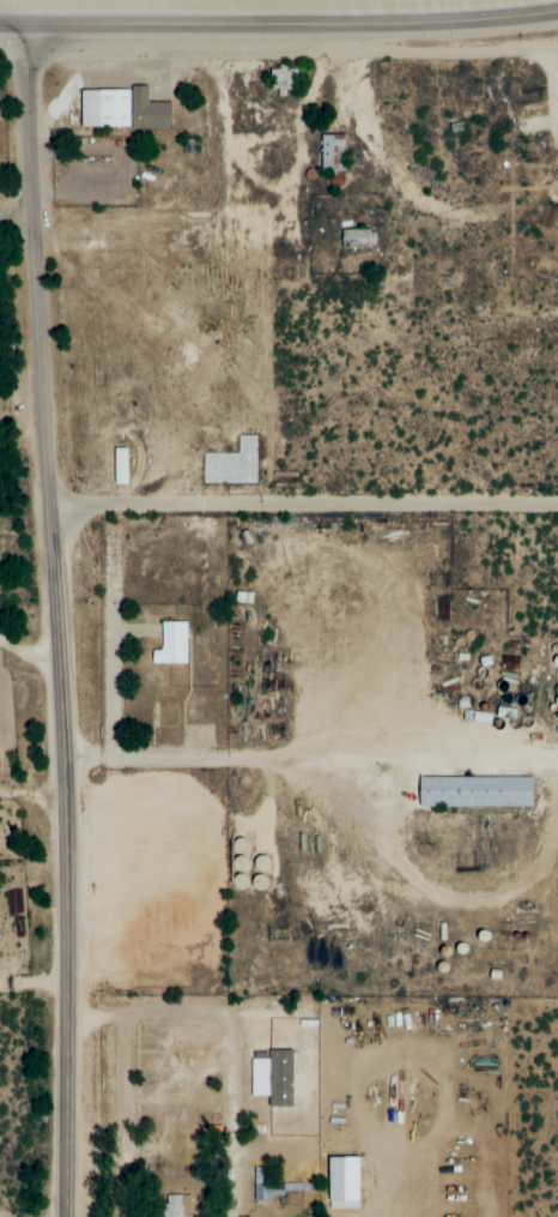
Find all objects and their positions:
road: (279, 26)
building: (283, 78)
road: (219, 89)
building: (121, 109)
building: (332, 153)
building: (357, 239)
building: (120, 466)
road: (304, 504)
road: (55, 619)
building: (170, 645)
building: (473, 793)
building: (272, 1079)
building: (341, 1183)
building: (176, 1206)

